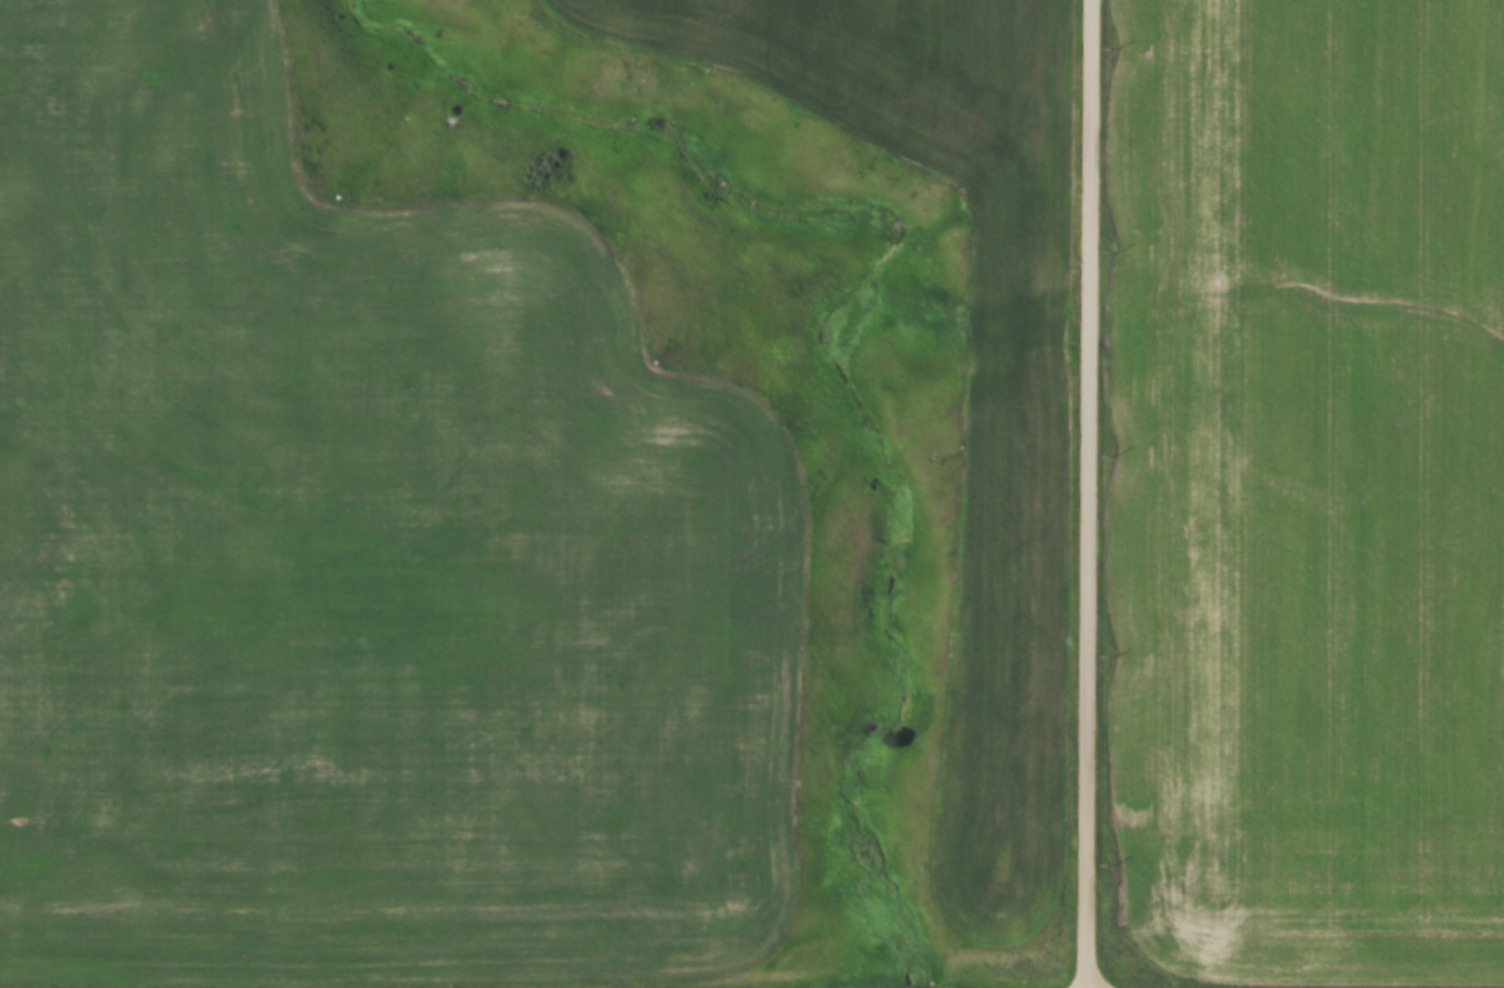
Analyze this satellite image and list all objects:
road: (1090, 493)

